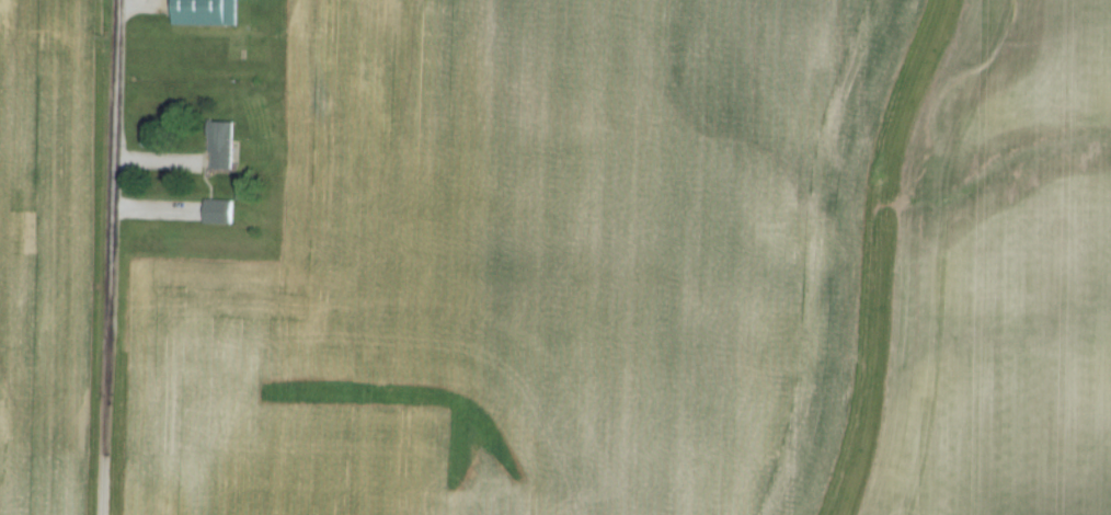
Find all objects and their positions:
building: (204, 13)
building: (225, 147)
building: (221, 214)
road: (103, 257)

